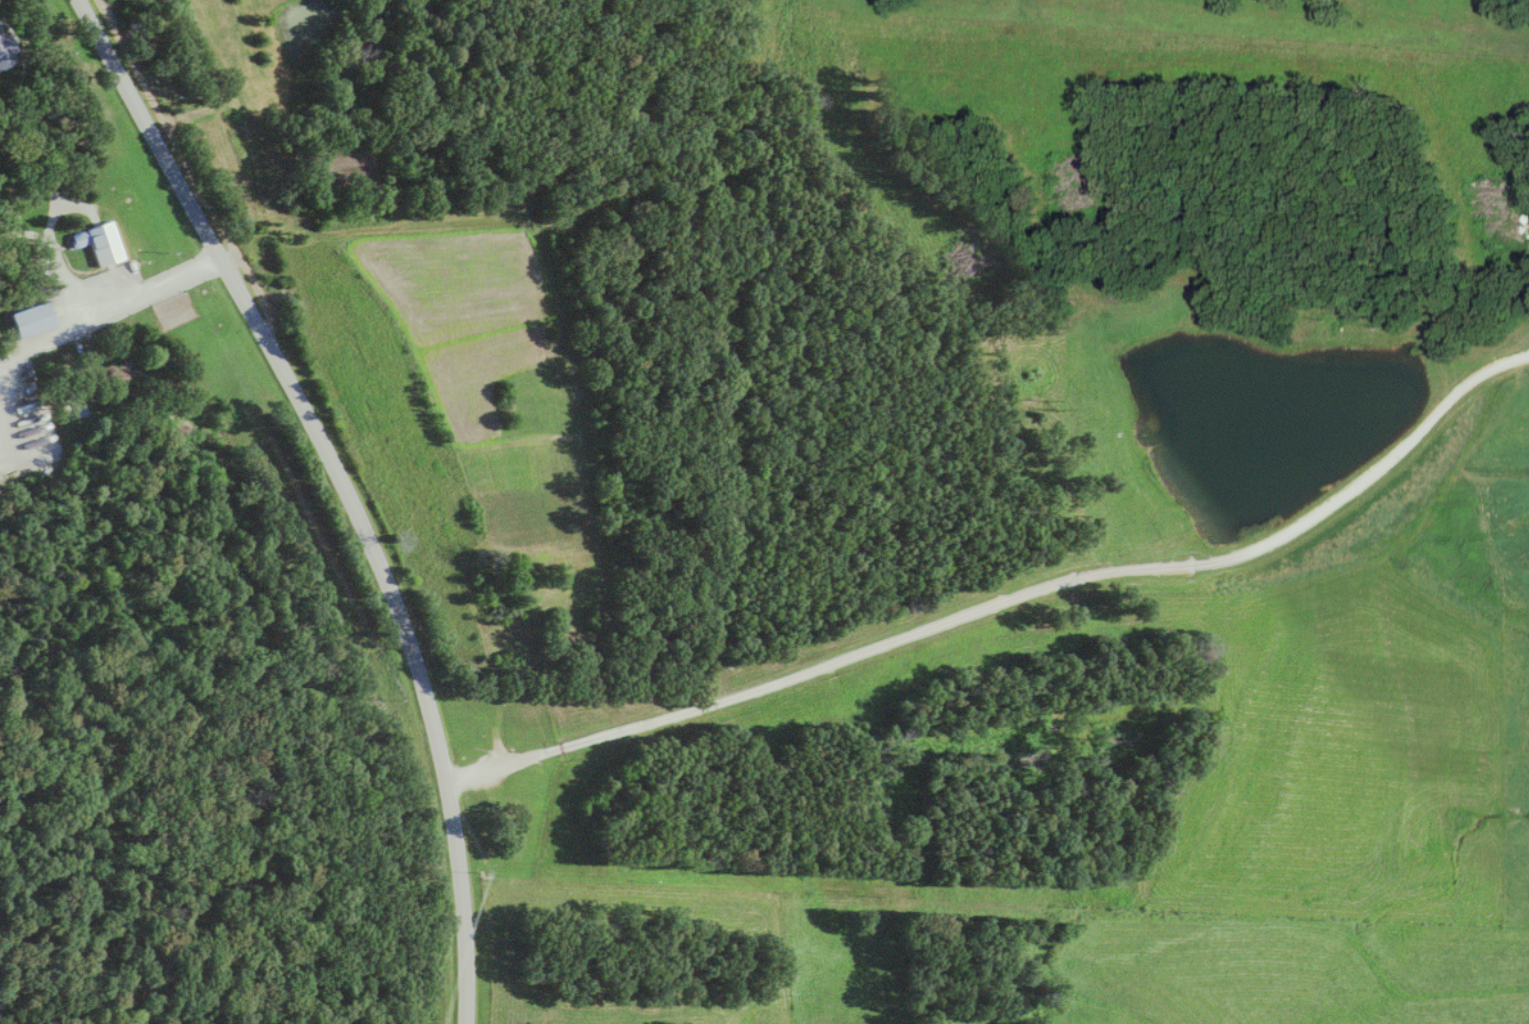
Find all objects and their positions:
building: (5, 53)
building: (98, 244)
road: (153, 287)
building: (30, 320)
road: (336, 491)
road: (1007, 599)

